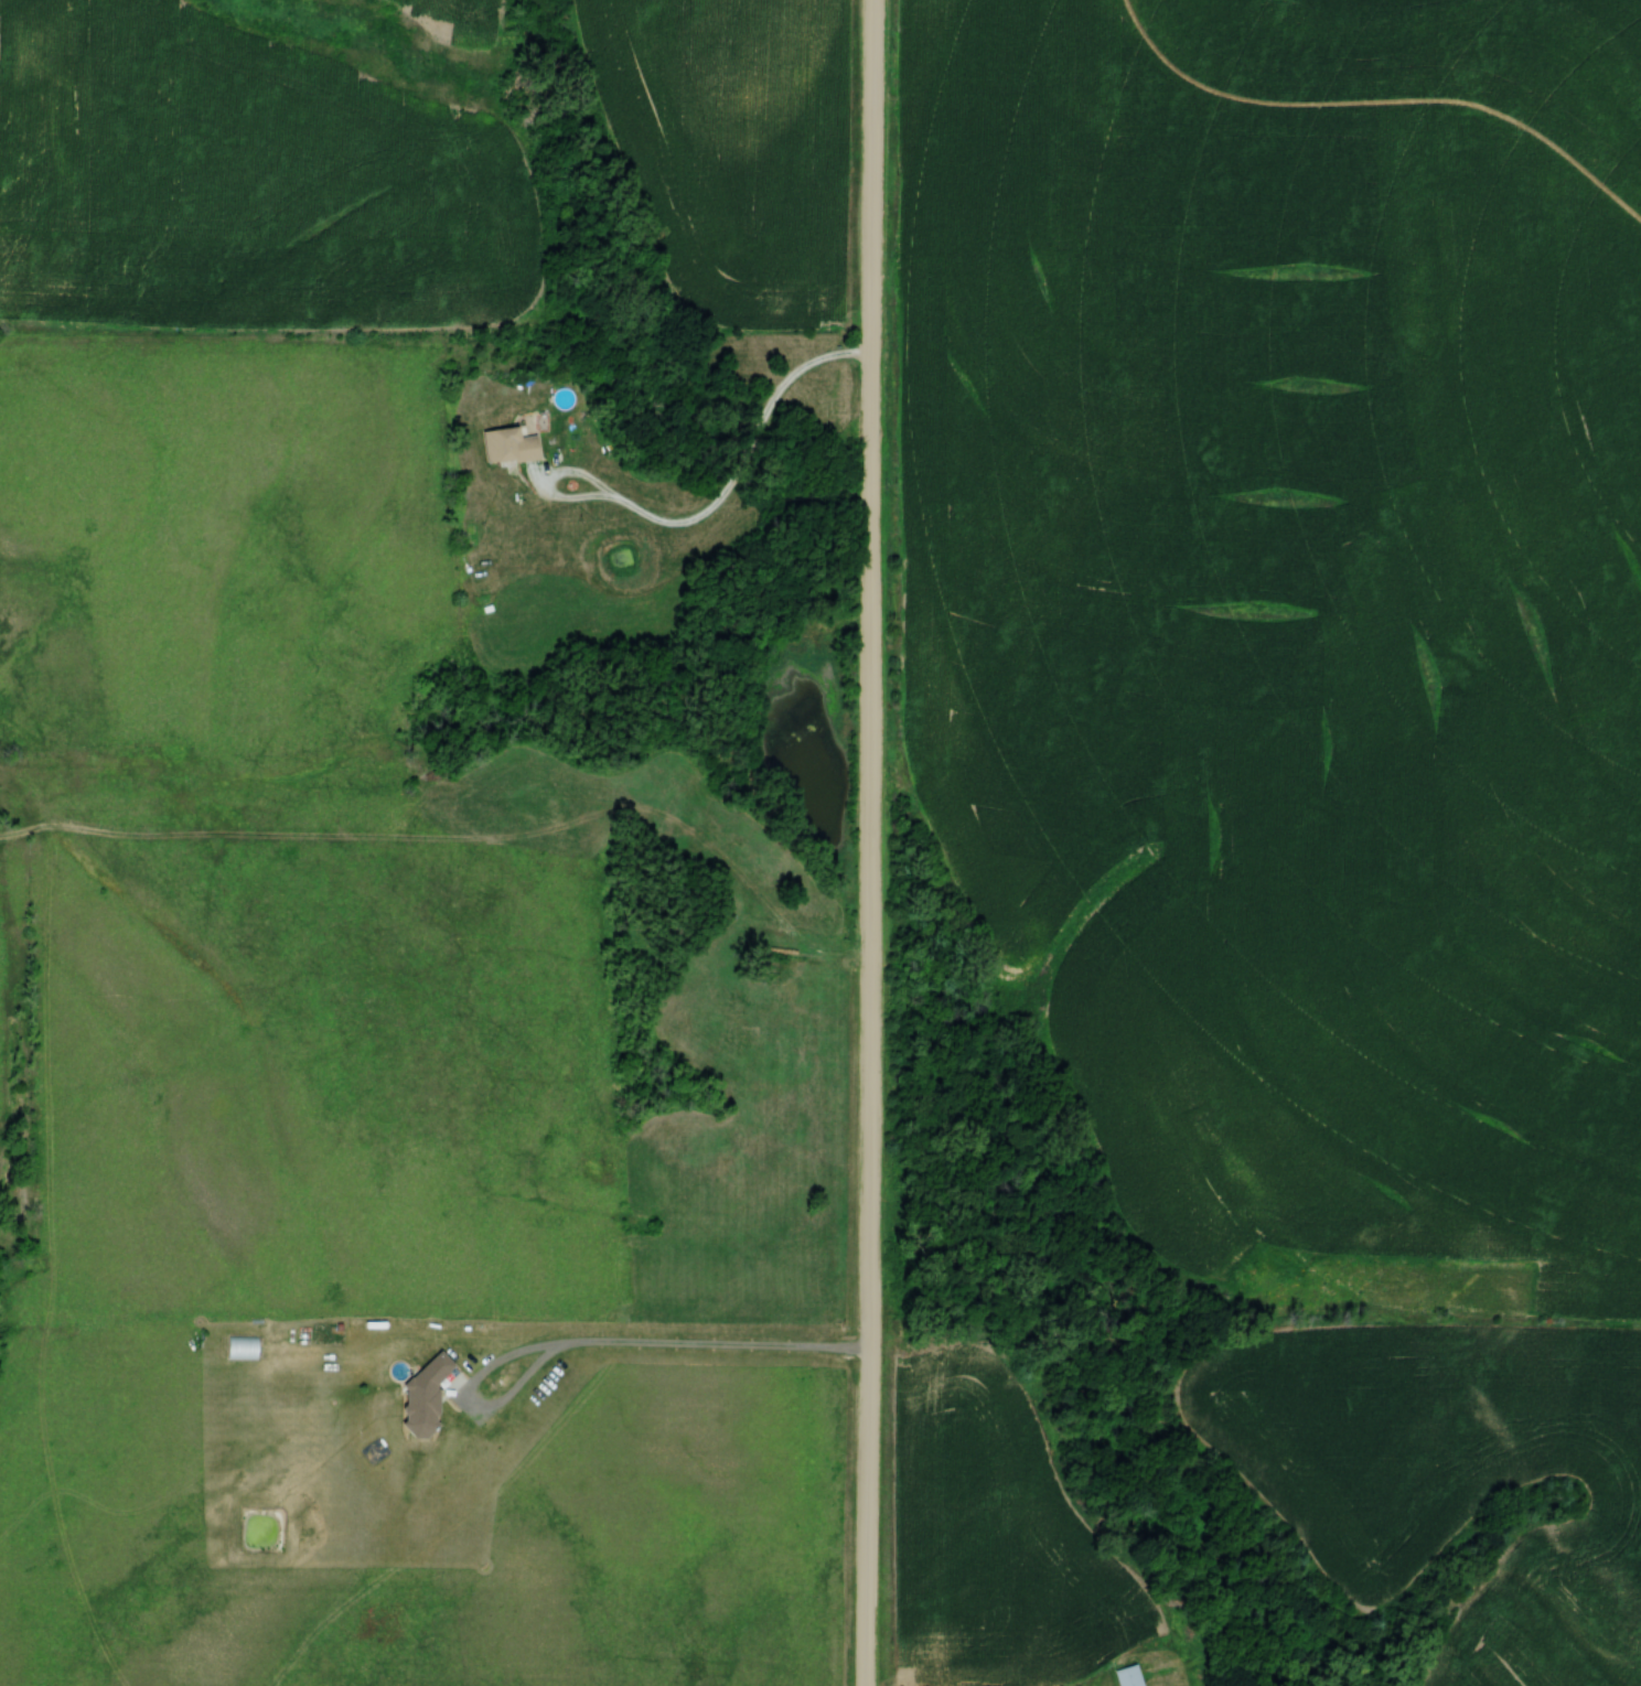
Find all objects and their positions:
building: (507, 447)
road: (747, 457)
road: (548, 472)
road: (871, 842)
road: (651, 1345)
building: (240, 1349)
building: (422, 1396)
building: (1127, 1676)

